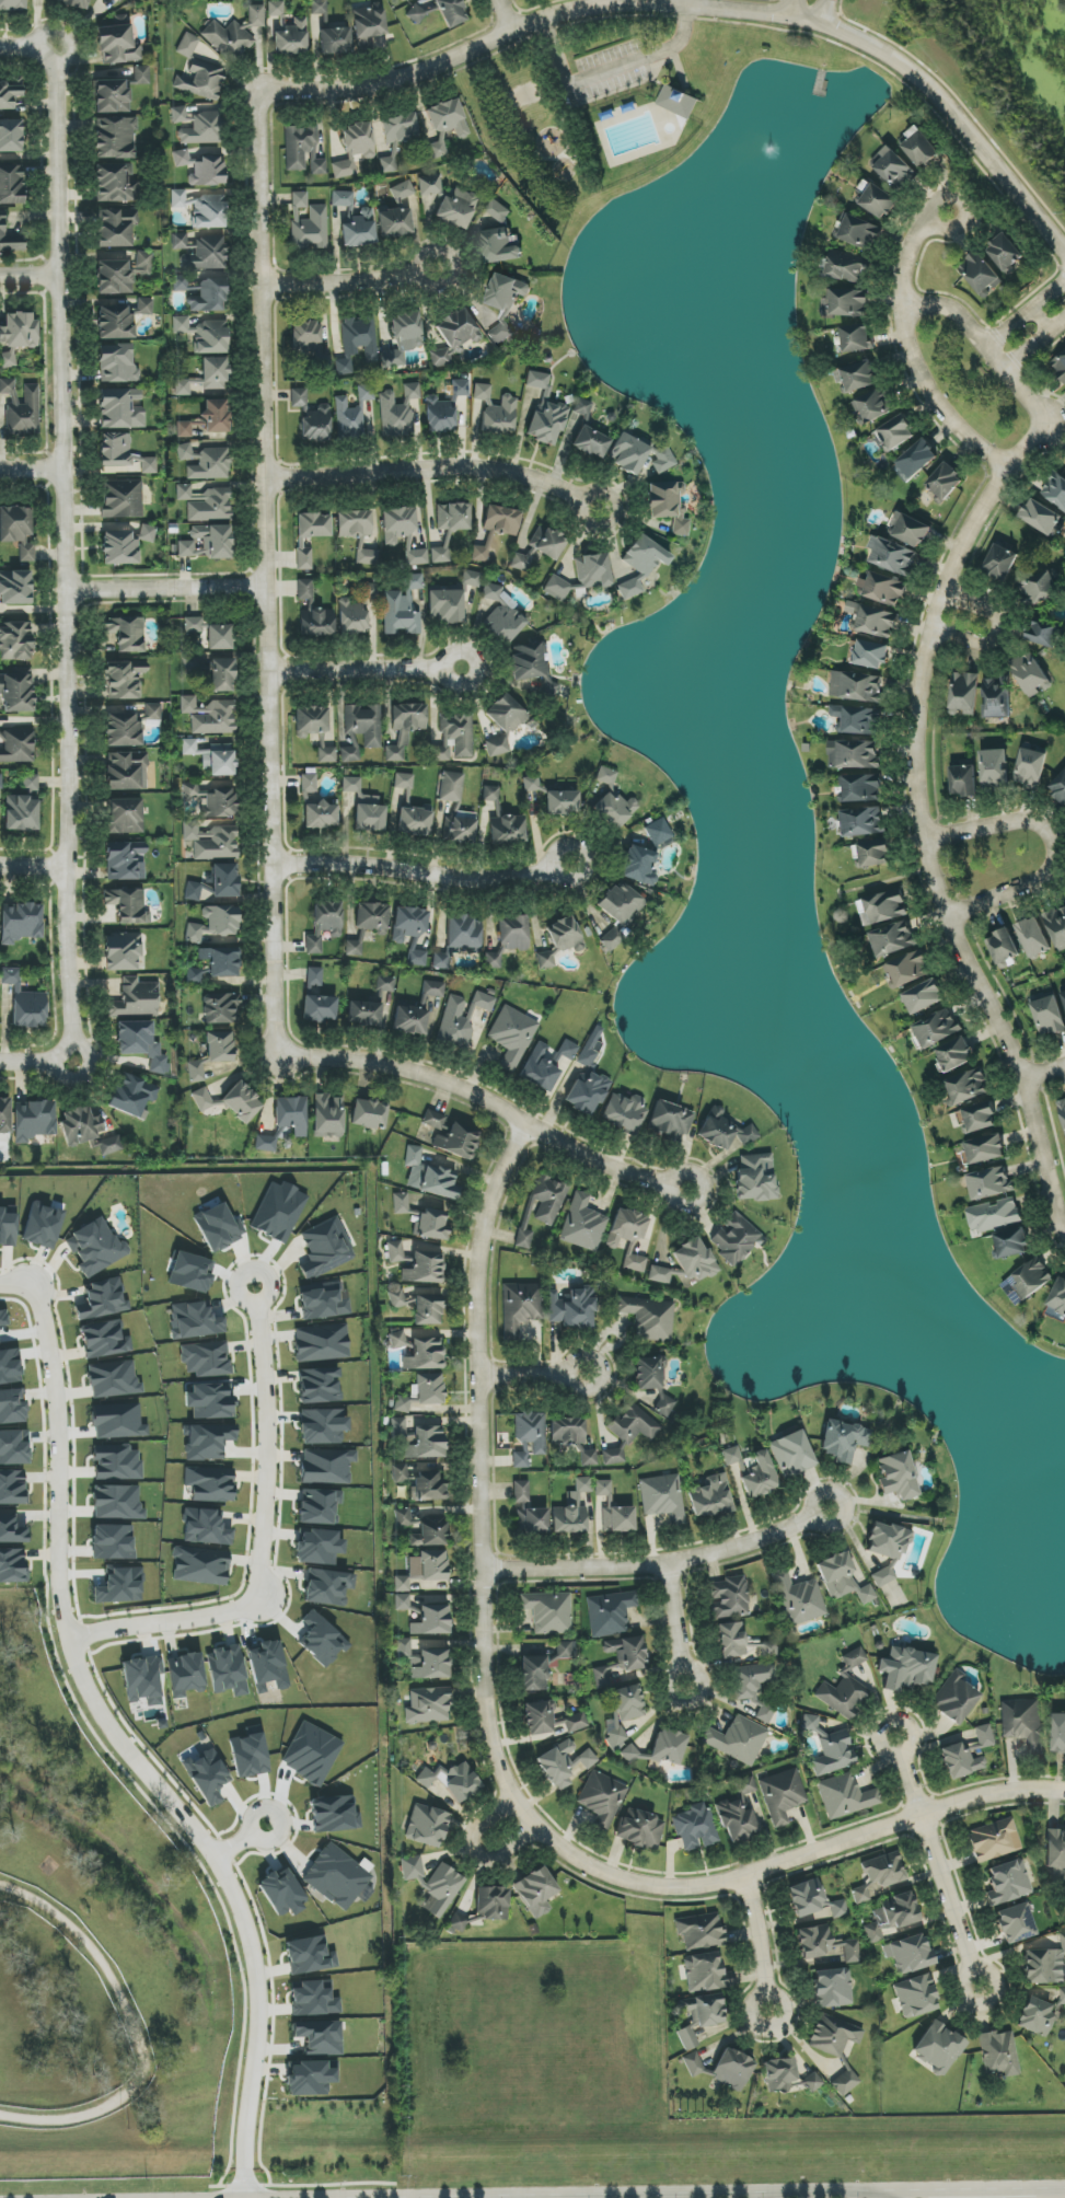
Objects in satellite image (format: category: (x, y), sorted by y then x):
building: (118, 0)
building: (402, 0)
road: (674, 2)
building: (74, 3)
building: (12, 4)
building: (319, 7)
road: (703, 8)
road: (789, 8)
building: (440, 11)
road: (826, 13)
road: (508, 14)
building: (256, 15)
building: (368, 24)
building: (288, 32)
building: (228, 39)
building: (334, 39)
building: (117, 45)
road: (606, 70)
building: (198, 72)
building: (141, 74)
building: (9, 94)
building: (112, 96)
building: (678, 102)
building: (445, 125)
building: (197, 126)
building: (398, 128)
building: (10, 136)
building: (115, 138)
building: (358, 140)
building: (921, 149)
building: (303, 150)
fountain: (763, 150)
building: (387, 165)
building: (894, 167)
building: (200, 169)
building: (342, 169)
building: (114, 183)
building: (11, 184)
building: (429, 185)
building: (402, 190)
building: (342, 198)
building: (879, 201)
building: (201, 208)
building: (456, 208)
building: (498, 211)
building: (394, 222)
building: (308, 223)
road: (939, 224)
building: (115, 228)
building: (359, 229)
building: (860, 232)
building: (10, 239)
building: (499, 245)
building: (200, 252)
building: (1005, 252)
building: (143, 263)
building: (848, 266)
building: (980, 273)
road: (24, 276)
building: (114, 277)
road: (357, 280)
building: (204, 291)
building: (506, 292)
building: (846, 303)
building: (144, 306)
road: (1026, 312)
road: (1041, 319)
building: (115, 323)
building: (19, 331)
building: (500, 333)
building: (202, 335)
building: (453, 336)
building: (856, 337)
building: (402, 339)
building: (357, 343)
building: (309, 344)
road: (1035, 344)
road: (912, 355)
building: (8, 359)
building: (117, 365)
building: (1060, 366)
road: (1008, 370)
building: (856, 375)
building: (206, 377)
building: (537, 380)
building: (366, 393)
building: (872, 406)
building: (21, 408)
building: (120, 408)
building: (444, 408)
building: (398, 410)
building: (496, 410)
building: (216, 416)
building: (312, 417)
building: (348, 420)
building: (546, 423)
building: (184, 429)
building: (895, 433)
building: (590, 442)
building: (186, 452)
building: (123, 453)
building: (638, 453)
building: (917, 458)
building: (210, 464)
road: (441, 467)
road: (31, 472)
building: (945, 481)
building: (1055, 489)
building: (121, 498)
building: (206, 502)
building: (668, 506)
building: (452, 517)
building: (1041, 517)
building: (354, 523)
building: (397, 524)
building: (313, 525)
building: (496, 529)
building: (18, 530)
building: (910, 530)
building: (208, 542)
building: (546, 542)
building: (125, 545)
building: (440, 555)
building: (892, 555)
building: (367, 557)
building: (416, 557)
building: (303, 558)
road: (67, 559)
building: (522, 559)
building: (643, 563)
building: (1000, 563)
building: (591, 574)
road: (267, 576)
building: (414, 581)
building: (15, 588)
building: (557, 588)
building: (1039, 588)
building: (884, 589)
building: (304, 590)
road: (169, 592)
building: (491, 592)
building: (450, 599)
building: (357, 611)
building: (400, 614)
building: (505, 621)
building: (316, 622)
building: (877, 622)
building: (193, 625)
road: (998, 631)
building: (126, 633)
building: (1043, 633)
building: (219, 636)
building: (15, 641)
building: (870, 653)
building: (532, 667)
road: (366, 671)
building: (1035, 672)
building: (222, 675)
building: (124, 680)
building: (857, 686)
building: (16, 693)
building: (963, 693)
building: (996, 698)
building: (153, 712)
building: (507, 714)
building: (210, 716)
building: (311, 719)
building: (861, 720)
building: (361, 729)
building: (404, 729)
building: (123, 730)
building: (454, 738)
building: (16, 744)
building: (497, 745)
building: (854, 753)
building: (326, 755)
building: (212, 756)
building: (1031, 764)
building: (994, 768)
building: (127, 771)
building: (1, 780)
building: (403, 780)
building: (964, 780)
building: (30, 783)
building: (531, 784)
building: (309, 785)
building: (450, 786)
building: (863, 788)
building: (1058, 788)
building: (490, 794)
building: (612, 801)
building: (562, 803)
building: (364, 807)
building: (21, 812)
building: (125, 815)
building: (320, 815)
building: (414, 820)
building: (860, 822)
building: (461, 826)
building: (506, 829)
building: (658, 832)
building: (210, 841)
road: (1051, 842)
building: (873, 853)
road: (925, 855)
building: (125, 860)
building: (639, 866)
road: (35, 870)
road: (429, 875)
building: (224, 880)
building: (193, 891)
building: (128, 905)
building: (882, 907)
building: (620, 911)
building: (20, 923)
building: (215, 923)
building: (324, 925)
building: (367, 925)
building: (1056, 926)
building: (512, 933)
building: (463, 934)
building: (566, 935)
building: (1033, 937)
building: (893, 938)
building: (1004, 948)
building: (121, 951)
building: (493, 959)
building: (545, 960)
building: (221, 961)
building: (440, 962)
building: (906, 969)
building: (194, 976)
building: (313, 979)
building: (386, 984)
building: (432, 988)
building: (924, 996)
building: (1063, 996)
building: (136, 999)
building: (24, 1002)
building: (220, 1007)
building: (320, 1008)
building: (363, 1014)
building: (1049, 1017)
building: (462, 1018)
building: (409, 1019)
building: (936, 1028)
building: (512, 1036)
building: (140, 1043)
building: (219, 1046)
building: (591, 1046)
building: (567, 1050)
building: (953, 1054)
building: (541, 1067)
building: (196, 1071)
road: (1043, 1078)
building: (968, 1086)
building: (587, 1091)
building: (134, 1097)
building: (201, 1099)
building: (242, 1102)
road: (487, 1103)
building: (1062, 1109)
building: (625, 1112)
building: (369, 1113)
building: (4, 1115)
building: (327, 1115)
building: (981, 1117)
building: (35, 1120)
building: (433, 1120)
building: (670, 1121)
building: (285, 1122)
building: (81, 1125)
building: (723, 1131)
building: (458, 1141)
building: (108, 1145)
building: (985, 1149)
building: (413, 1156)
building: (756, 1178)
building: (439, 1182)
building: (989, 1182)
building: (401, 1203)
building: (542, 1205)
building: (994, 1215)
building: (432, 1224)
building: (582, 1224)
building: (8, 1226)
building: (42, 1226)
building: (218, 1227)
building: (628, 1238)
building: (734, 1239)
building: (1012, 1242)
building: (97, 1247)
building: (325, 1248)
building: (395, 1251)
building: (686, 1264)
building: (424, 1268)
building: (1027, 1281)
road: (13, 1284)
building: (1058, 1296)
building: (396, 1298)
building: (102, 1299)
building: (321, 1303)
building: (519, 1306)
building: (427, 1309)
building: (571, 1310)
building: (650, 1317)
building: (195, 1320)
building: (103, 1340)
building: (322, 1343)
building: (417, 1352)
building: (205, 1360)
road: (533, 1374)
building: (113, 1379)
building: (652, 1381)
building: (319, 1386)
building: (429, 1389)
building: (210, 1401)
building: (402, 1403)
building: (12, 1407)
building: (118, 1422)
building: (322, 1425)
building: (397, 1427)
building: (567, 1431)
building: (628, 1431)
building: (529, 1437)
building: (842, 1441)
building: (208, 1442)
building: (426, 1443)
building: (13, 1447)
road: (261, 1451)
building: (791, 1454)
building: (731, 1456)
building: (588, 1458)
building: (116, 1462)
building: (326, 1466)
road: (481, 1469)
building: (400, 1472)
building: (898, 1476)
building: (760, 1477)
building: (210, 1484)
building: (427, 1485)
building: (12, 1486)
building: (603, 1488)
building: (521, 1492)
building: (710, 1496)
building: (662, 1497)
building: (117, 1502)
building: (319, 1506)
building: (571, 1511)
building: (617, 1519)
building: (532, 1520)
building: (205, 1527)
building: (11, 1528)
building: (421, 1528)
building: (888, 1540)
building: (112, 1542)
building: (319, 1547)
building: (429, 1565)
building: (12, 1566)
building: (200, 1566)
road: (663, 1566)
building: (884, 1576)
building: (842, 1578)
building: (401, 1584)
building: (120, 1586)
building: (326, 1587)
building: (729, 1598)
building: (798, 1598)
building: (402, 1601)
building: (548, 1611)
building: (609, 1613)
building: (431, 1620)
road: (159, 1626)
road: (675, 1630)
building: (321, 1640)
building: (741, 1642)
building: (621, 1658)
building: (854, 1658)
building: (424, 1661)
building: (266, 1664)
building: (228, 1670)
building: (533, 1673)
building: (185, 1675)
building: (143, 1680)
building: (753, 1688)
building: (842, 1696)
building: (954, 1699)
building: (428, 1705)
building: (623, 1713)
building: (551, 1719)
building: (1025, 1724)
building: (1058, 1733)
building: (984, 1736)
building: (738, 1739)
building: (661, 1748)
building: (829, 1748)
road: (127, 1749)
building: (248, 1756)
building: (961, 1760)
building: (564, 1763)
building: (207, 1775)
building: (453, 1781)
building: (783, 1795)
building: (845, 1796)
building: (602, 1798)
building: (426, 1826)
building: (696, 1828)
building: (641, 1830)
building: (993, 1840)
road: (236, 1844)
road: (473, 1851)
building: (1056, 1853)
road: (935, 1859)
road: (787, 1863)
building: (879, 1875)
building: (335, 1877)
building: (1008, 1883)
building: (433, 1884)
building: (535, 1892)
building: (491, 1902)
building: (812, 1902)
building: (890, 1916)
building: (458, 1922)
building: (1015, 1923)
building: (699, 1931)
building: (826, 1944)
road: (759, 1947)
building: (908, 1954)
building: (309, 1955)
building: (1045, 1965)
building: (705, 1973)
building: (832, 1988)
building: (1063, 1995)
building: (915, 1997)
building: (313, 1999)
building: (1037, 2016)
road: (135, 2032)
building: (833, 2035)
building: (319, 2037)
building: (687, 2038)
building: (938, 2047)
building: (999, 2054)
building: (693, 2063)
building: (732, 2070)
building: (779, 2074)
building: (311, 2078)
building: (846, 2082)
building: (813, 2083)
road: (960, 2187)
road: (1051, 2187)
road: (564, 2191)
road: (884, 2193)
road: (917, 2193)
road: (558, 2195)

